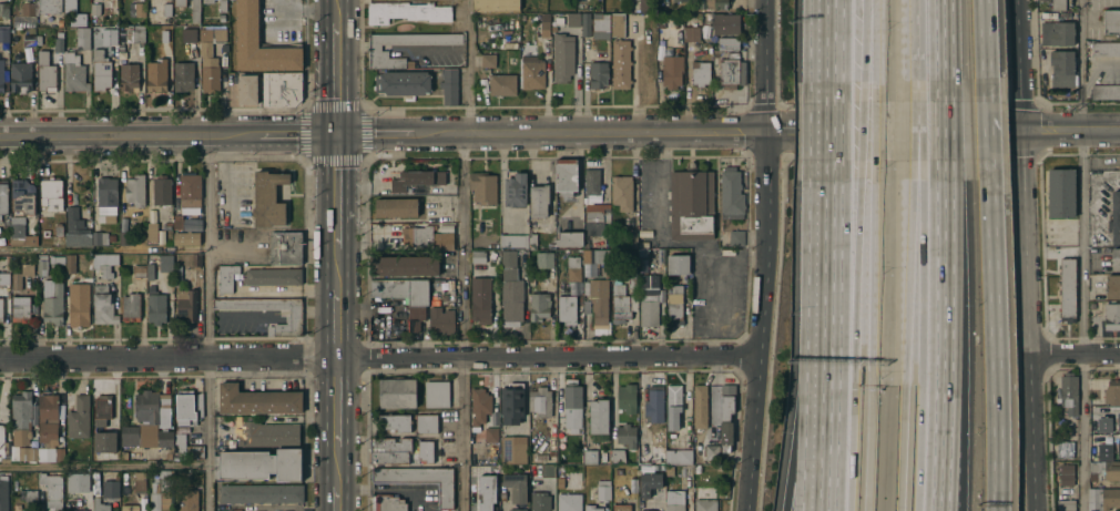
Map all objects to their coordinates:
building: (662, 0)
building: (1041, 0)
building: (680, 1)
building: (207, 2)
building: (180, 3)
building: (69, 4)
building: (710, 4)
building: (1058, 4)
building: (223, 6)
building: (496, 6)
building: (49, 7)
building: (95, 10)
building: (166, 10)
building: (28, 11)
building: (140, 11)
building: (195, 11)
road: (336, 11)
building: (407, 13)
building: (3, 14)
building: (221, 19)
building: (1111, 20)
building: (573, 21)
building: (247, 22)
building: (60, 23)
building: (586, 25)
building: (618, 25)
building: (725, 25)
building: (546, 27)
building: (601, 27)
building: (1057, 32)
building: (59, 34)
building: (132, 35)
building: (189, 35)
building: (691, 35)
building: (4, 37)
building: (164, 37)
building: (82, 39)
building: (39, 41)
building: (29, 42)
building: (727, 44)
building: (59, 45)
road: (353, 45)
road: (376, 45)
building: (508, 47)
building: (1102, 47)
building: (374, 51)
road: (418, 51)
road: (834, 51)
road: (863, 51)
road: (875, 51)
road: (916, 51)
road: (943, 51)
road: (982, 51)
building: (210, 58)
building: (562, 58)
building: (104, 60)
building: (488, 62)
building: (621, 65)
building: (1061, 67)
road: (1101, 68)
building: (671, 72)
building: (729, 72)
building: (532, 73)
building: (45, 74)
building: (74, 74)
building: (184, 74)
building: (700, 74)
building: (598, 75)
building: (156, 76)
road: (336, 78)
building: (1, 79)
building: (20, 79)
building: (129, 79)
building: (403, 84)
building: (502, 85)
building: (450, 86)
building: (282, 90)
building: (1106, 90)
building: (247, 91)
road: (1070, 129)
road: (893, 130)
road: (833, 131)
road: (862, 131)
road: (874, 131)
road: (916, 131)
road: (918, 131)
road: (944, 131)
road: (987, 131)
road: (383, 133)
traffic signals: (336, 134)
building: (566, 177)
building: (416, 181)
building: (592, 183)
building: (483, 188)
building: (135, 192)
building: (162, 192)
road: (336, 192)
building: (516, 192)
building: (1061, 192)
building: (622, 194)
building: (731, 194)
building: (50, 195)
building: (190, 195)
building: (22, 198)
building: (3, 200)
building: (106, 201)
building: (268, 202)
building: (539, 202)
building: (691, 206)
building: (396, 208)
building: (1114, 216)
building: (597, 219)
building: (177, 223)
building: (6, 226)
building: (167, 226)
building: (75, 231)
building: (58, 232)
building: (20, 234)
building: (151, 234)
building: (380, 237)
building: (419, 237)
building: (99, 238)
building: (186, 238)
building: (735, 238)
building: (123, 239)
building: (111, 241)
building: (532, 241)
building: (570, 241)
building: (446, 242)
building: (513, 242)
building: (629, 242)
building: (586, 245)
building: (642, 245)
road: (829, 245)
building: (285, 248)
road: (103, 249)
road: (461, 254)
building: (643, 255)
road: (760, 255)
road: (1026, 255)
road: (1085, 255)
building: (478, 257)
building: (597, 257)
building: (1114, 257)
building: (195, 258)
building: (508, 259)
building: (58, 260)
building: (104, 262)
building: (165, 262)
building: (544, 262)
building: (16, 263)
building: (70, 263)
building: (678, 263)
building: (405, 264)
building: (644, 264)
building: (41, 265)
building: (573, 267)
building: (139, 268)
road: (337, 268)
building: (150, 270)
building: (176, 273)
road: (857, 274)
building: (20, 275)
building: (272, 278)
building: (4, 279)
building: (226, 279)
building: (650, 284)
building: (1112, 285)
building: (151, 287)
building: (442, 288)
building: (1067, 288)
building: (401, 290)
road: (287, 293)
building: (510, 296)
building: (624, 296)
building: (599, 299)
building: (52, 300)
building: (186, 302)
building: (480, 302)
building: (79, 304)
building: (103, 304)
building: (674, 304)
building: (131, 305)
building: (539, 305)
building: (20, 307)
building: (156, 307)
building: (568, 308)
building: (1, 310)
building: (649, 311)
building: (1111, 315)
building: (416, 317)
building: (441, 319)
building: (293, 320)
road: (207, 323)
road: (337, 323)
road: (872, 335)
road: (906, 335)
road: (922, 335)
road: (943, 335)
road: (994, 335)
road: (1075, 355)
road: (377, 357)
building: (397, 391)
building: (1112, 391)
building: (436, 392)
building: (1069, 392)
building: (627, 397)
building: (256, 399)
building: (539, 399)
building: (572, 400)
road: (336, 401)
building: (511, 403)
building: (654, 403)
building: (102, 405)
building: (479, 405)
building: (673, 405)
building: (700, 405)
building: (187, 406)
building: (149, 412)
building: (726, 413)
building: (79, 416)
building: (21, 417)
building: (49, 417)
building: (598, 417)
building: (164, 419)
road: (800, 419)
building: (394, 421)
building: (425, 421)
road: (824, 421)
building: (1102, 425)
building: (1118, 427)
building: (490, 432)
building: (129, 433)
building: (267, 435)
building: (624, 435)
road: (949, 436)
building: (165, 437)
building: (1, 440)
building: (110, 440)
building: (187, 447)
building: (1065, 448)
building: (1118, 448)
building: (389, 449)
building: (511, 449)
road: (852, 449)
building: (425, 450)
building: (711, 450)
building: (1103, 451)
building: (28, 452)
building: (50, 452)
building: (551, 452)
building: (123, 453)
building: (650, 453)
building: (169, 454)
building: (618, 454)
building: (684, 454)
building: (590, 456)
building: (6, 459)
building: (257, 463)
road: (103, 464)
road: (336, 466)
building: (1104, 468)
building: (548, 470)
building: (669, 470)
building: (1067, 473)
building: (419, 479)
building: (78, 480)
building: (632, 480)
building: (140, 481)
building: (649, 482)
building: (515, 484)
building: (51, 487)
building: (110, 488)
building: (603, 488)
building: (161, 492)
building: (261, 492)
building: (4, 493)
building: (31, 497)
building: (1103, 498)
road: (336, 499)
building: (186, 500)
building: (539, 500)
building: (478, 501)
building: (569, 501)
building: (673, 501)
building: (388, 502)
building: (100, 504)
building: (705, 504)
building: (1066, 504)
building: (130, 507)
building: (591, 507)
building: (621, 507)
building: (517, 509)
building: (78, 510)
building: (648, 510)

